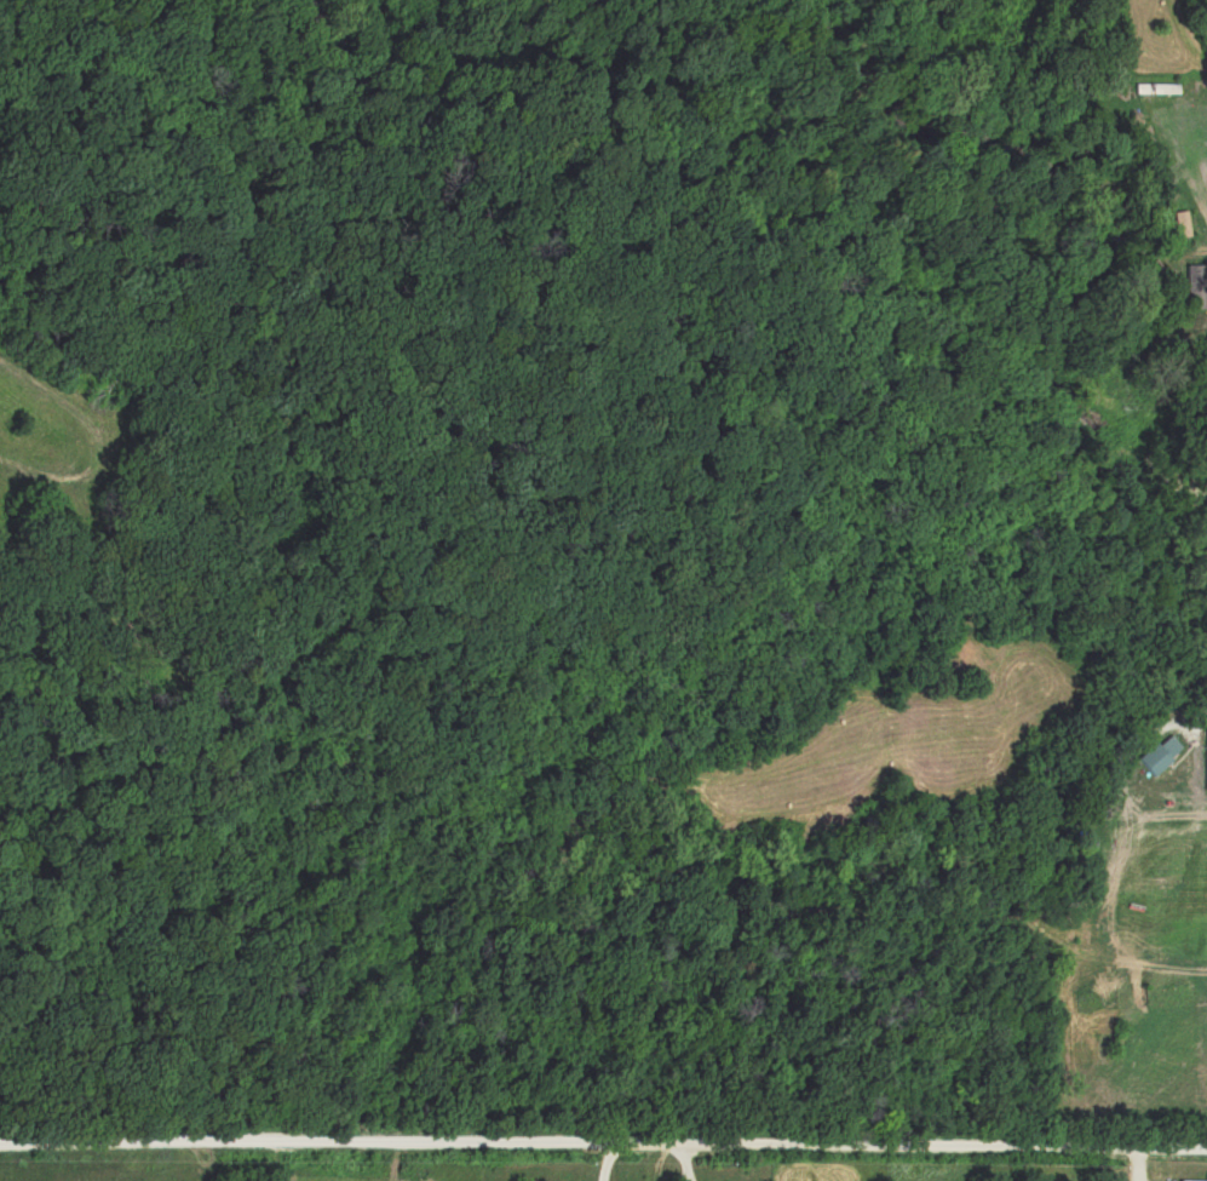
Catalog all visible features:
building: (1154, 87)
building: (1195, 285)
building: (1159, 752)
building: (1205, 756)
road: (603, 1150)
building: (1192, 1180)

